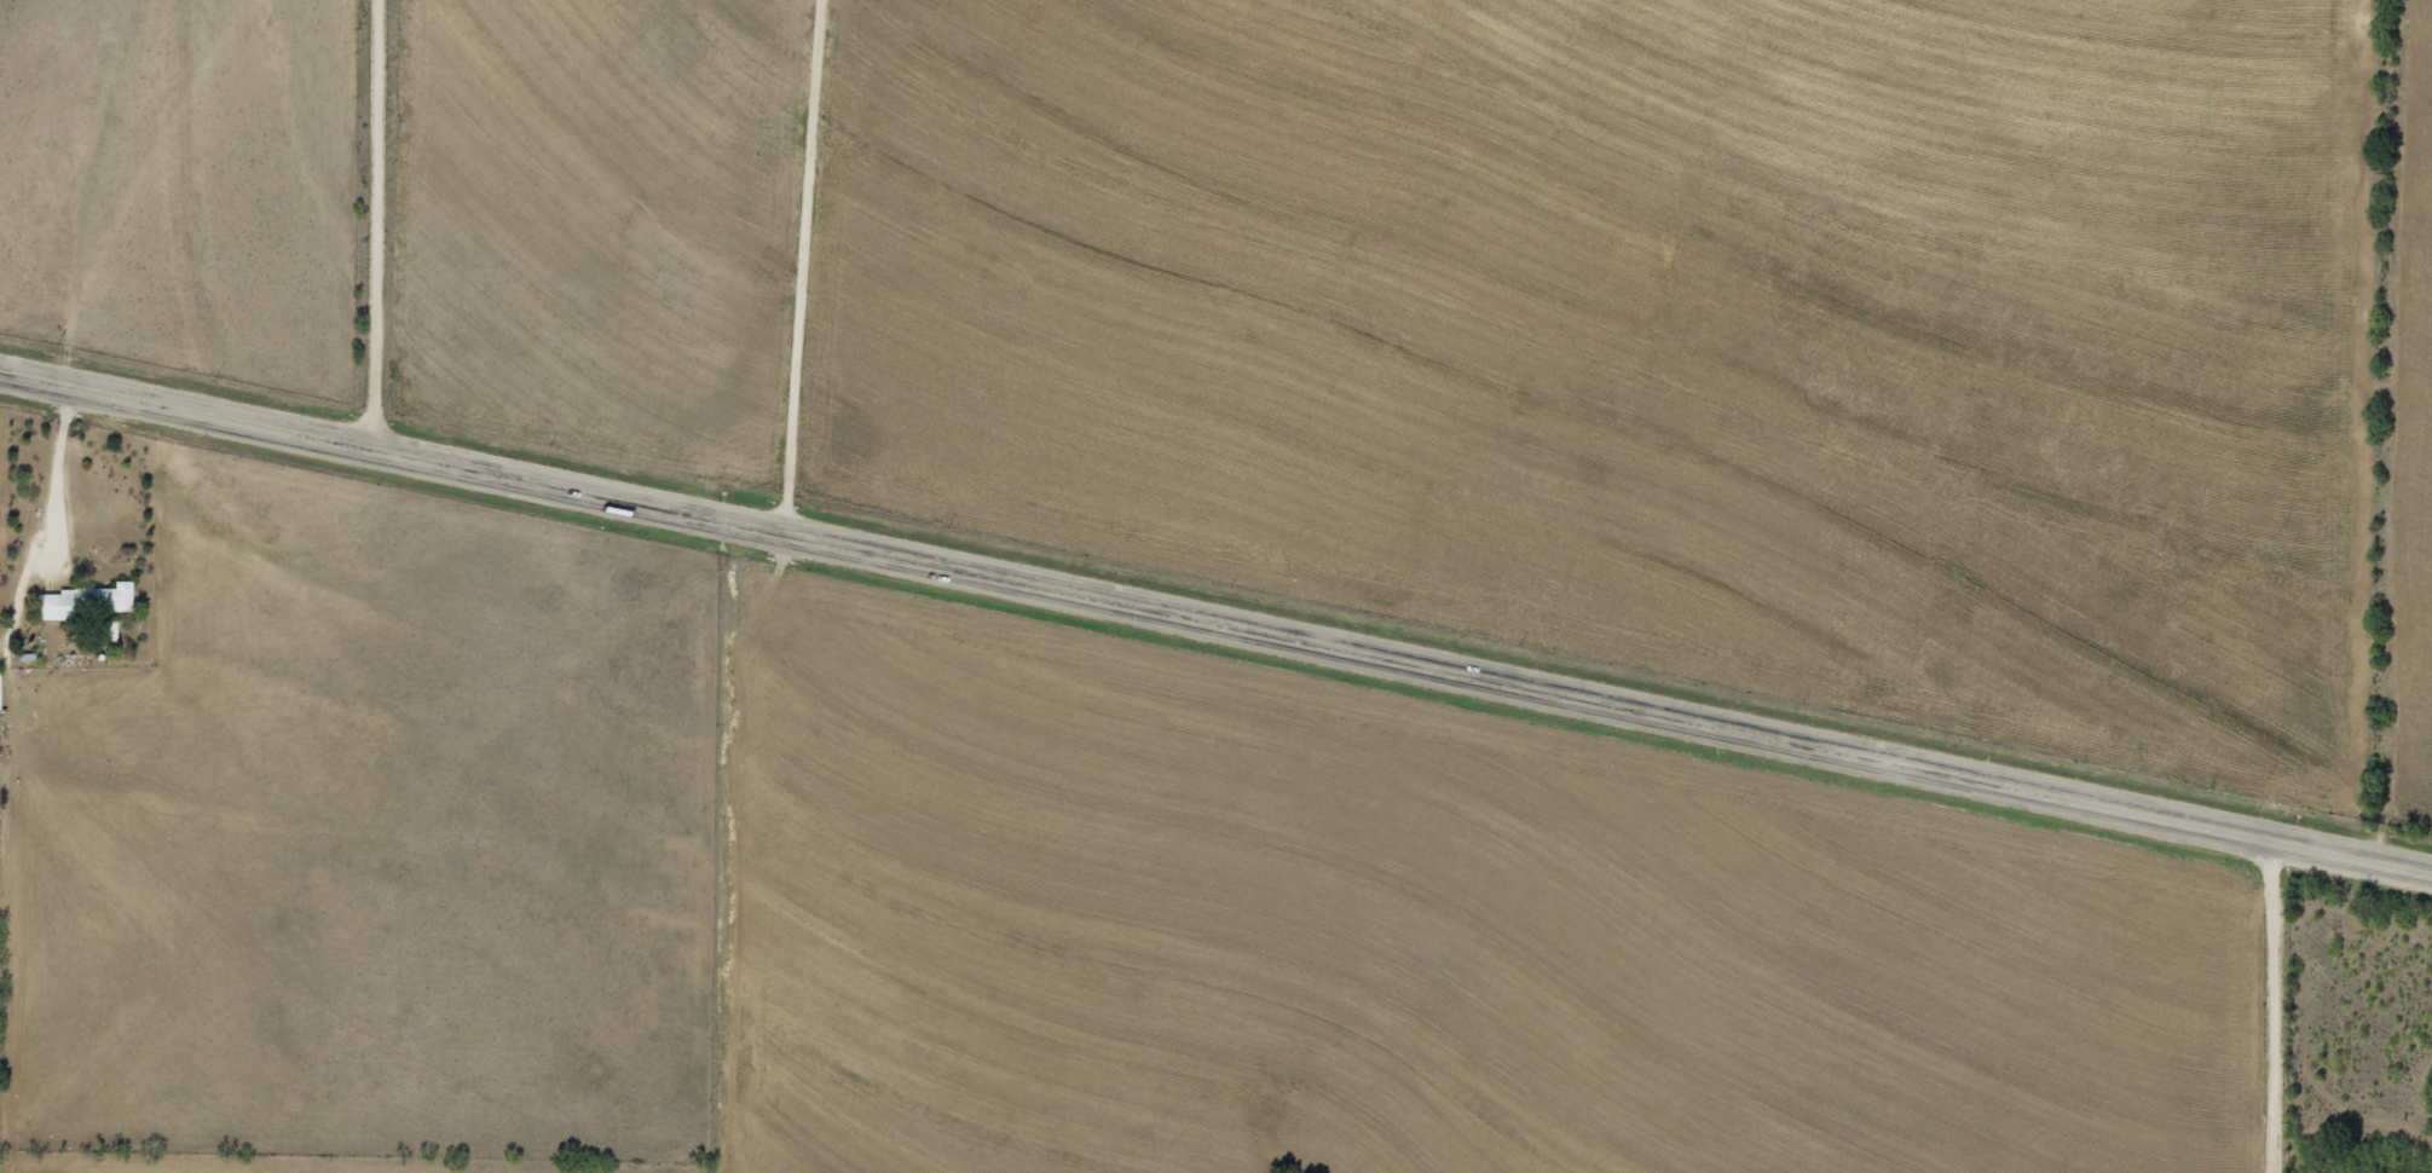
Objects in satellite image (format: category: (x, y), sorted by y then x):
road: (381, 224)
road: (808, 266)
building: (82, 599)
road: (1215, 620)
road: (2278, 1007)

